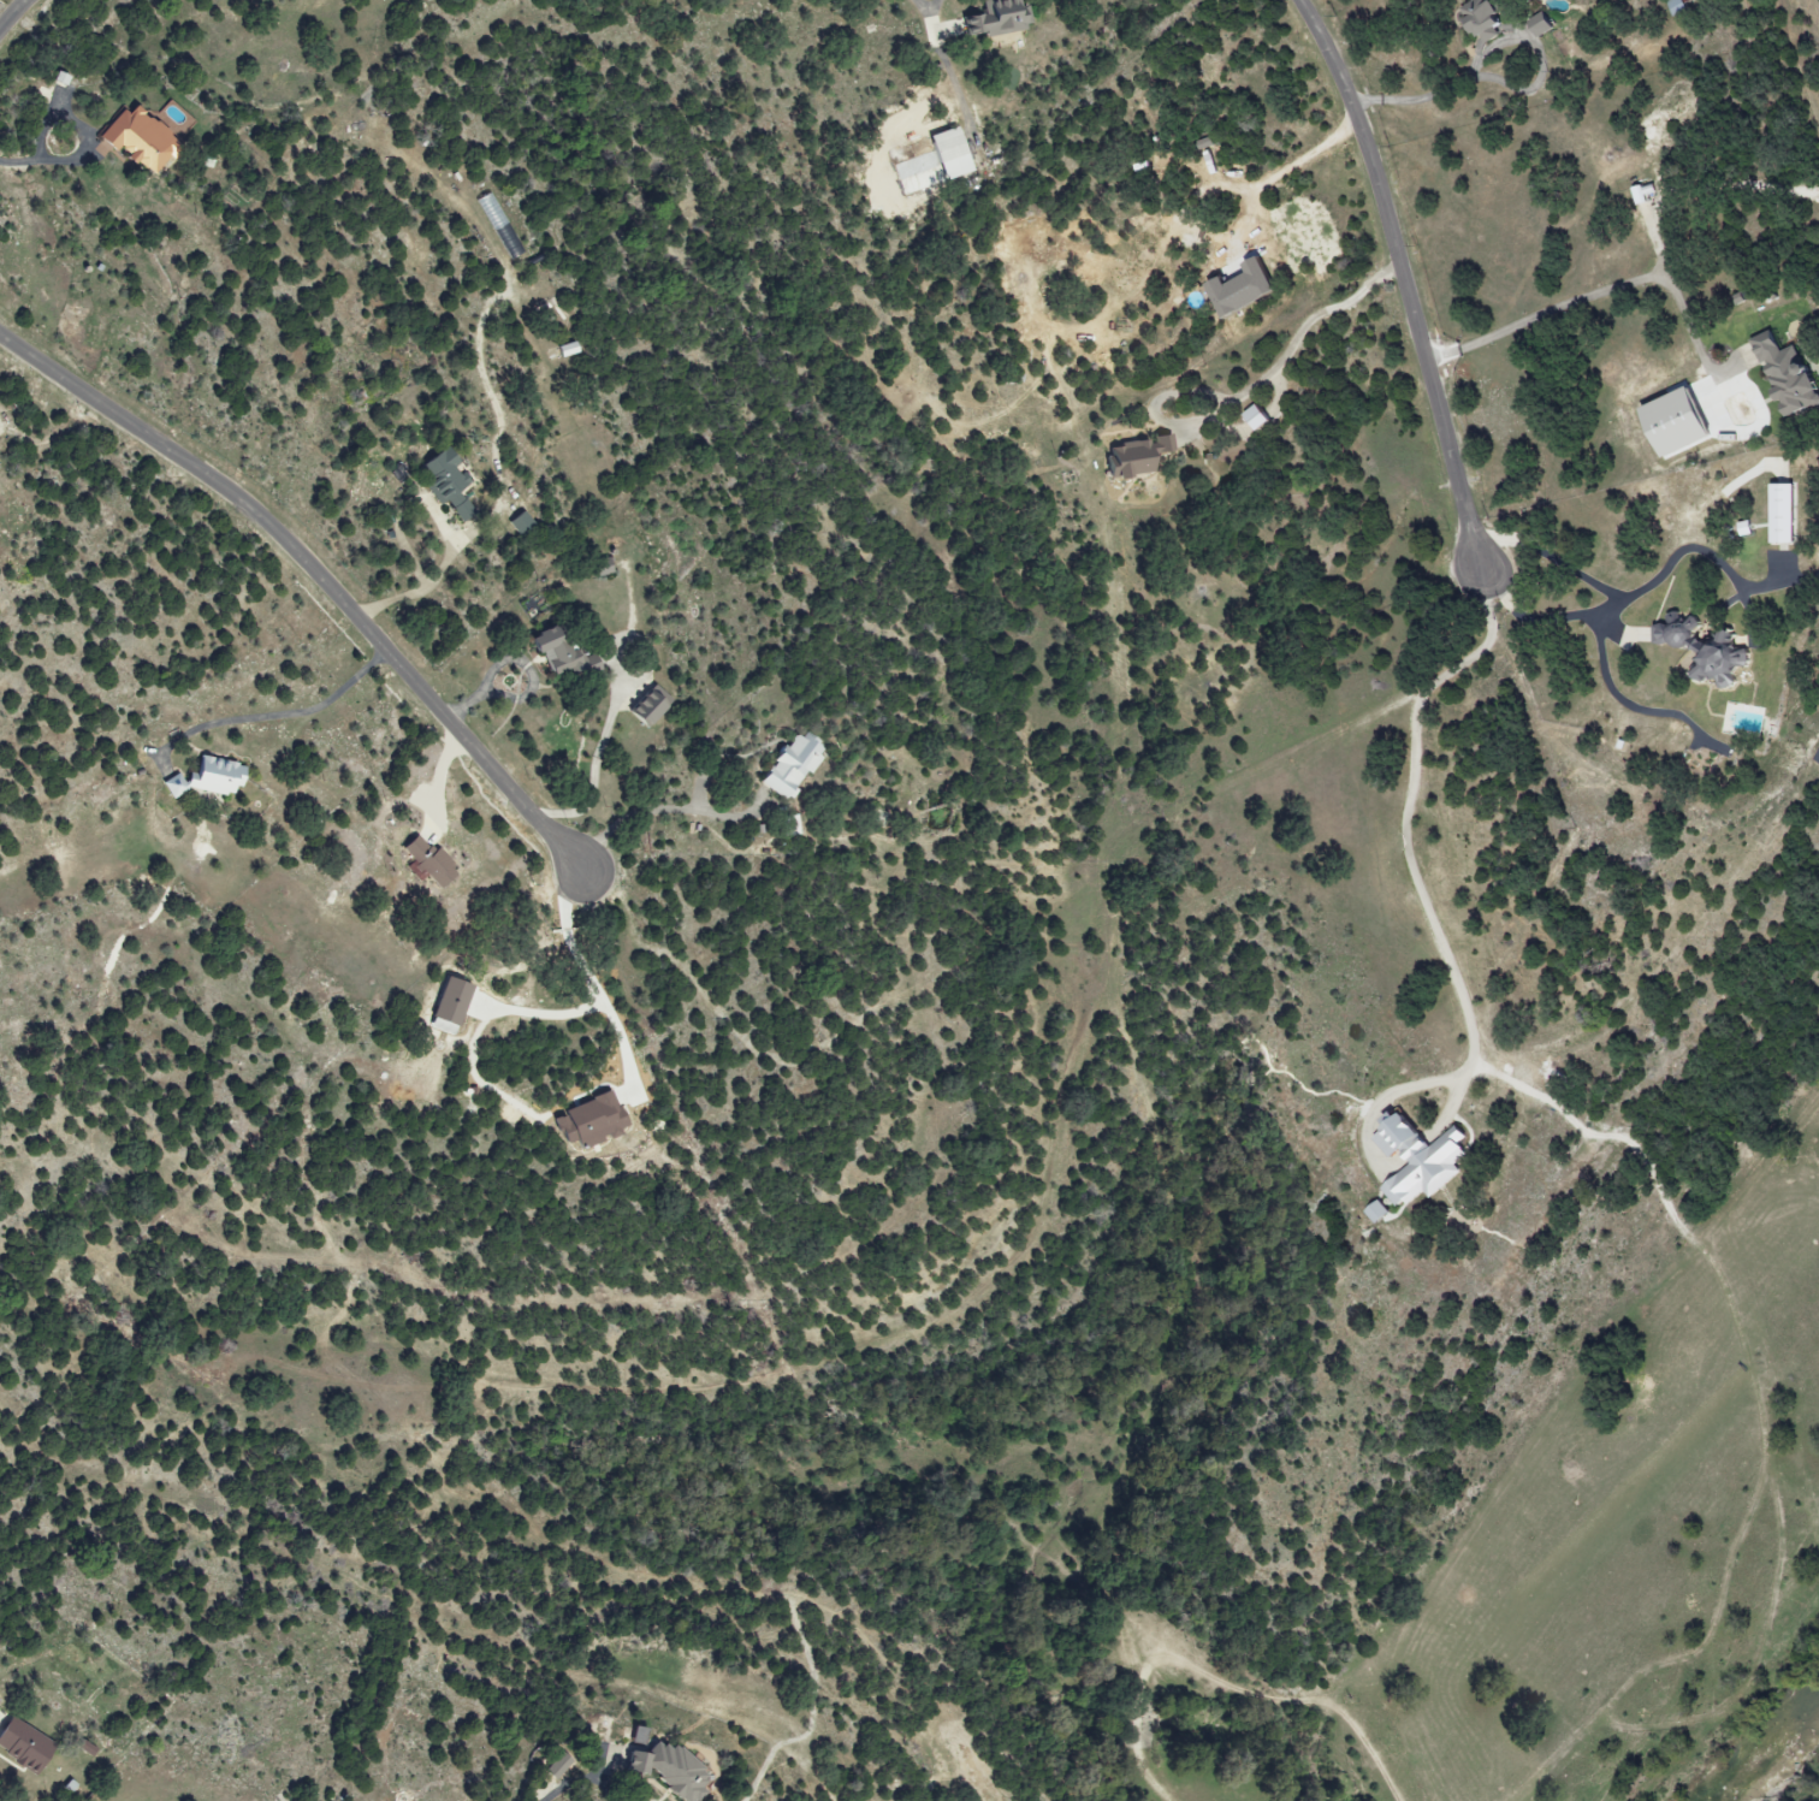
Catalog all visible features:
road: (922, 5)
building: (1676, 6)
road: (11, 14)
building: (997, 17)
building: (1480, 19)
building: (1539, 24)
road: (1414, 100)
road: (79, 125)
building: (137, 140)
building: (947, 153)
road: (17, 164)
road: (1285, 166)
building: (1641, 192)
building: (498, 225)
road: (1402, 274)
building: (1239, 288)
road: (1592, 297)
road: (1292, 346)
building: (565, 350)
building: (1784, 374)
building: (1254, 417)
building: (1671, 422)
building: (1133, 456)
building: (444, 481)
road: (499, 484)
building: (1781, 514)
building: (521, 525)
building: (1743, 528)
road: (315, 576)
road: (1633, 594)
building: (549, 650)
building: (1702, 650)
road: (511, 654)
building: (646, 705)
road: (268, 717)
building: (790, 765)
road: (594, 775)
building: (206, 777)
road: (660, 810)
road: (1406, 816)
building: (425, 860)
building: (446, 1006)
building: (587, 1121)
building: (1417, 1160)
building: (1375, 1211)
river: (1761, 1735)
building: (20, 1744)
building: (84, 1747)
building: (556, 1766)
building: (660, 1766)
road: (581, 1783)

